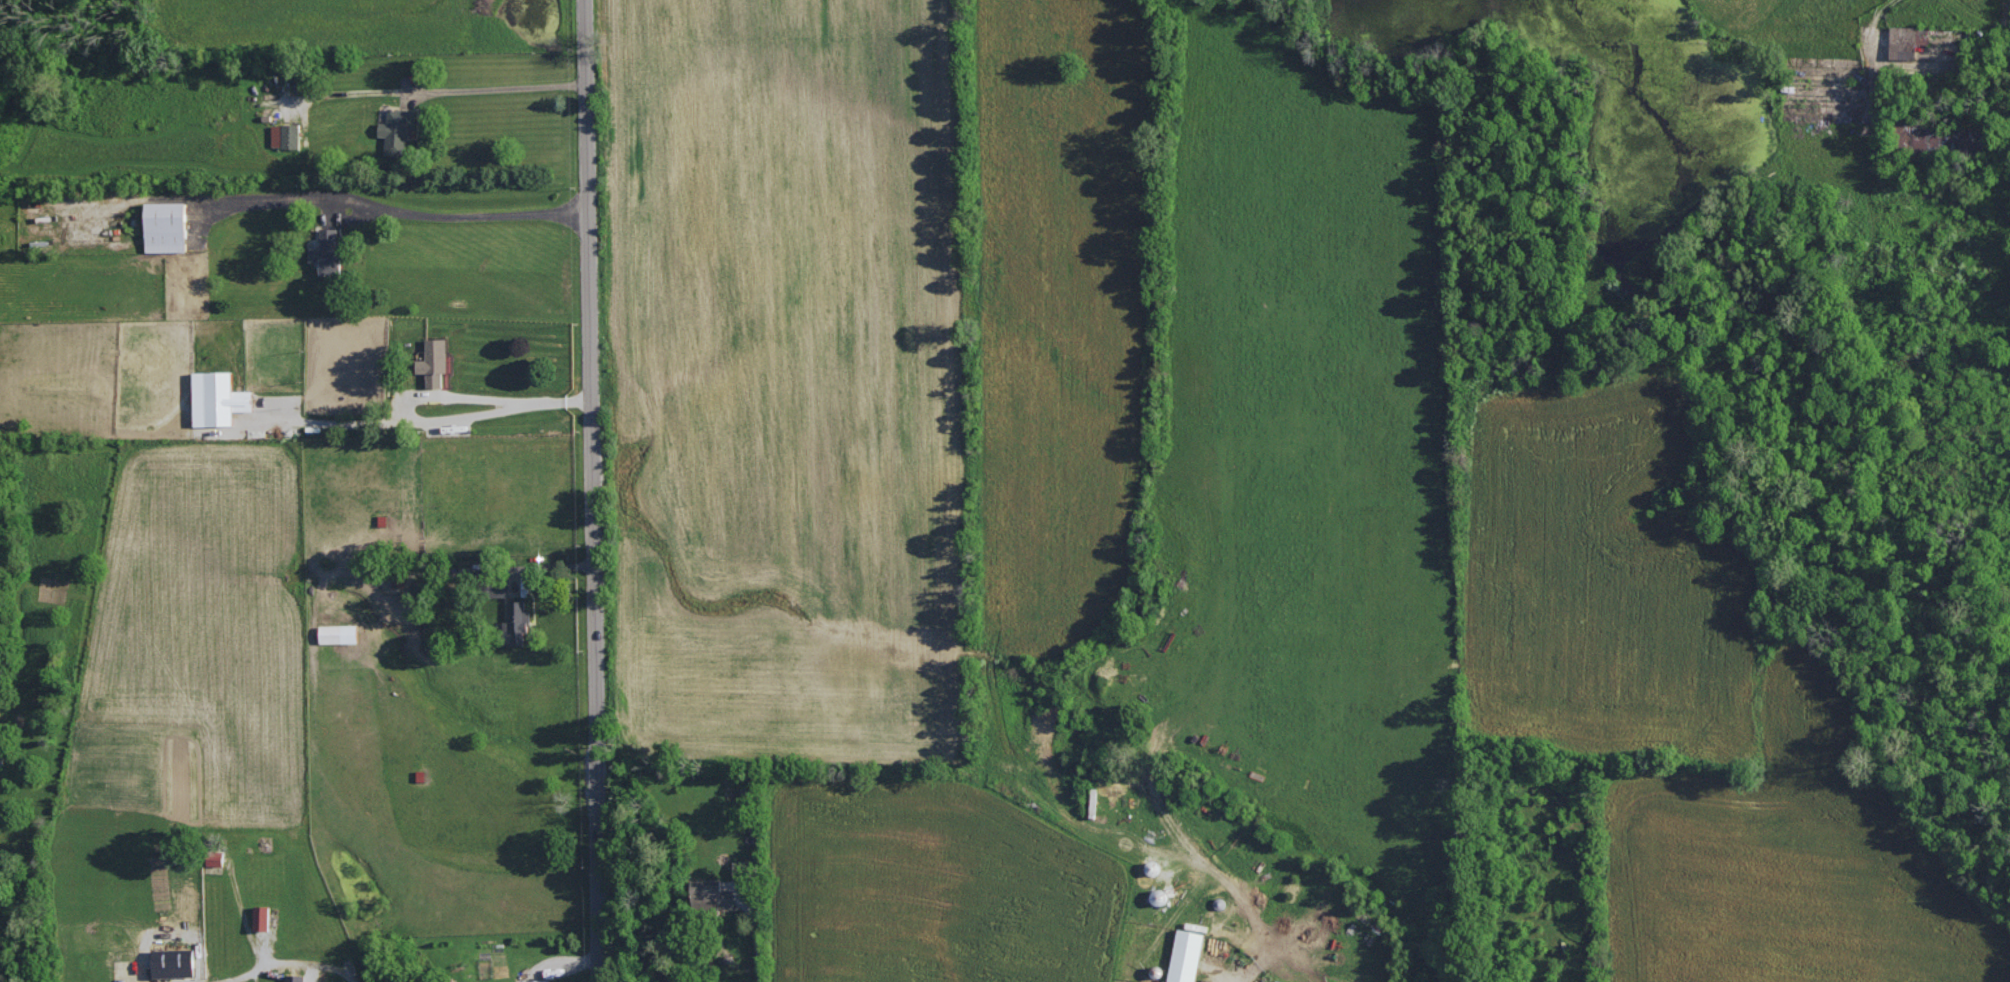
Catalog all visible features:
road: (1871, 23)
building: (1907, 39)
road: (499, 87)
building: (398, 129)
building: (286, 135)
building: (1965, 139)
road: (399, 207)
building: (166, 226)
building: (328, 251)
building: (434, 361)
building: (218, 398)
road: (500, 398)
road: (441, 418)
road: (591, 491)
road: (539, 566)
building: (517, 623)
building: (339, 632)
building: (1, 738)
building: (216, 857)
building: (746, 868)
building: (712, 894)
building: (262, 917)
road: (759, 947)
building: (1187, 955)
road: (291, 962)
building: (174, 965)
building: (296, 977)
building: (534, 980)
building: (1279, 981)

